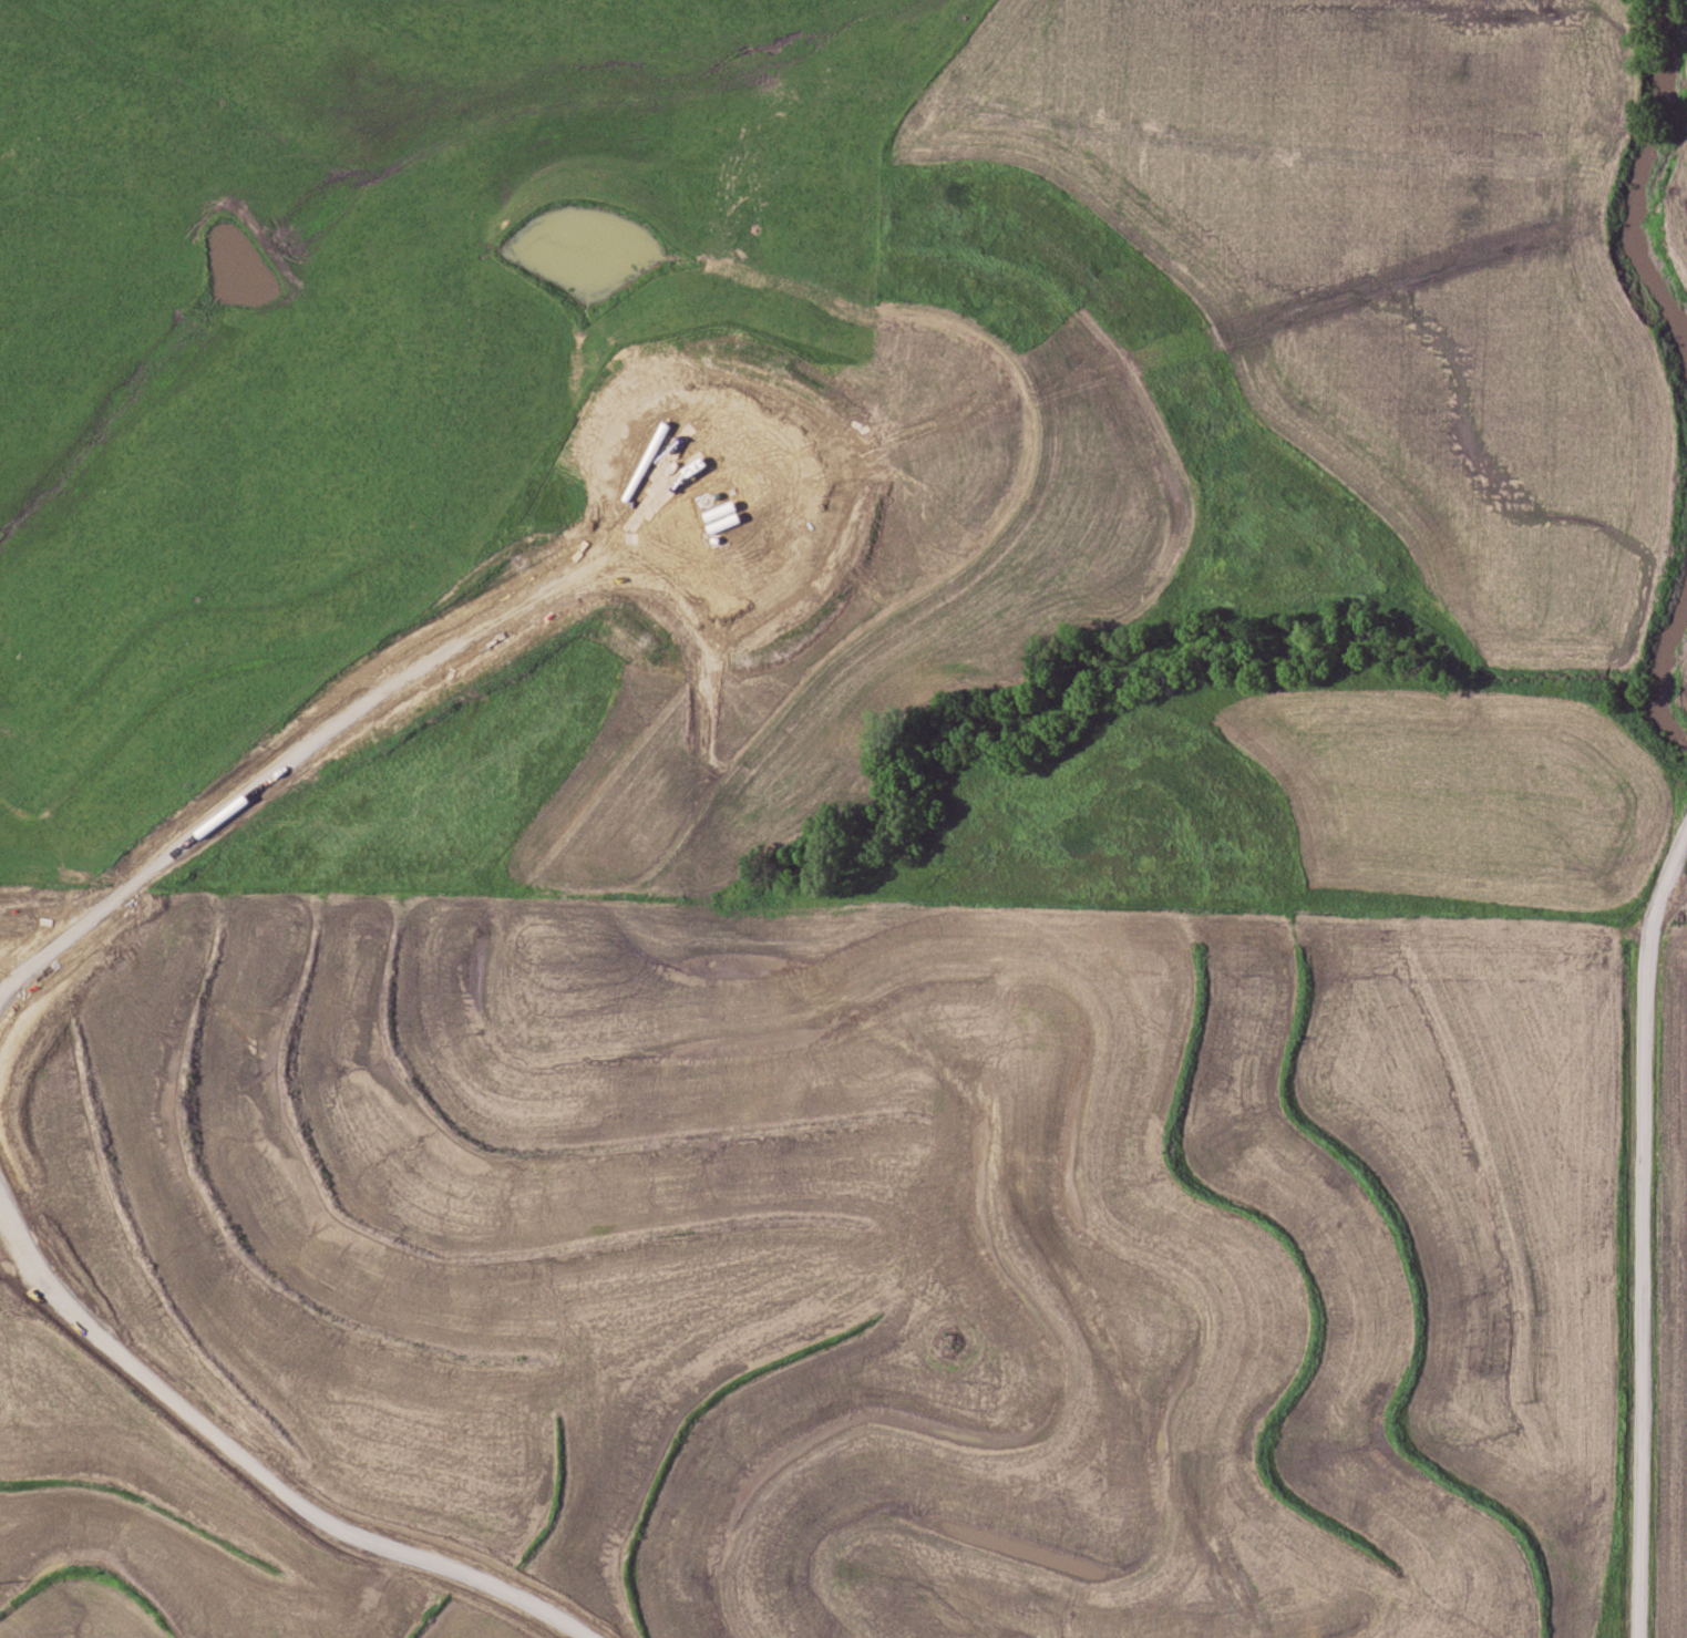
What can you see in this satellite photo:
road: (1648, 1233)

